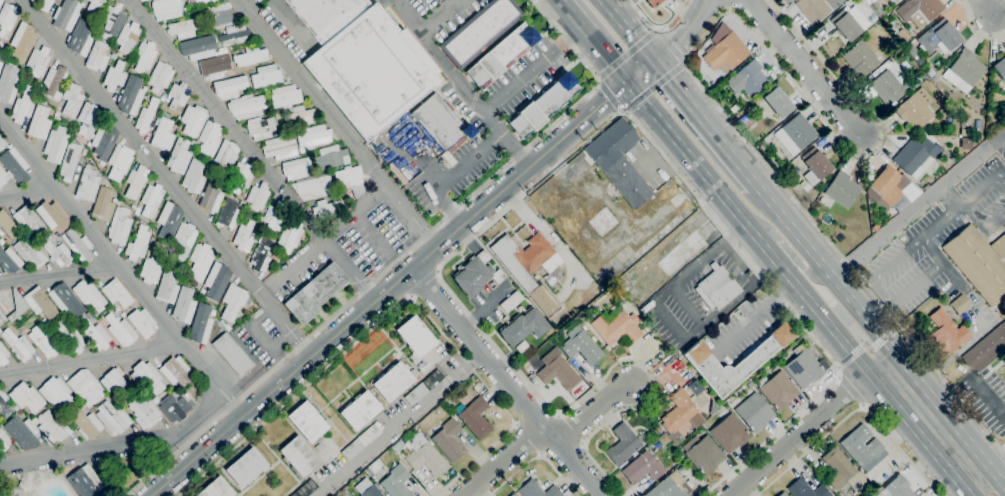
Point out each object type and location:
building: (138, 0)
building: (142, 0)
building: (786, 0)
building: (869, 0)
building: (891, 0)
building: (0, 1)
building: (257, 1)
building: (200, 2)
road: (450, 3)
building: (654, 3)
building: (45, 5)
building: (816, 8)
road: (985, 8)
building: (93, 9)
building: (165, 9)
building: (919, 11)
building: (66, 15)
building: (219, 15)
building: (326, 15)
parking lot: (435, 15)
road: (440, 16)
building: (7, 17)
building: (112, 20)
road: (289, 22)
building: (849, 23)
building: (185, 27)
road: (658, 27)
road: (658, 28)
road: (632, 29)
road: (973, 30)
building: (480, 31)
road: (656, 31)
road: (685, 32)
building: (234, 35)
building: (80, 37)
building: (127, 37)
building: (939, 37)
building: (22, 41)
road: (595, 41)
building: (198, 47)
building: (222, 50)
building: (726, 53)
building: (501, 54)
building: (144, 56)
building: (250, 56)
building: (97, 57)
traffic signals: (658, 60)
building: (860, 60)
road: (685, 61)
building: (37, 62)
building: (918, 62)
building: (0, 64)
building: (215, 66)
road: (803, 66)
road: (534, 68)
building: (1000, 69)
building: (877, 70)
building: (964, 70)
building: (371, 71)
road: (690, 71)
building: (114, 76)
building: (160, 76)
building: (266, 76)
building: (747, 80)
building: (53, 81)
building: (8, 83)
traffic signals: (631, 84)
road: (460, 85)
building: (862, 85)
building: (889, 85)
building: (229, 87)
building: (130, 95)
building: (178, 95)
building: (285, 95)
building: (163, 97)
building: (72, 100)
building: (778, 102)
building: (23, 105)
building: (543, 105)
building: (269, 106)
building: (246, 107)
building: (733, 109)
building: (915, 109)
building: (56, 114)
building: (277, 115)
building: (145, 116)
building: (297, 116)
building: (87, 119)
building: (192, 119)
building: (38, 122)
road: (338, 122)
road: (707, 122)
building: (440, 123)
building: (977, 124)
building: (260, 128)
road: (1003, 131)
building: (795, 134)
road: (1003, 134)
building: (162, 135)
building: (312, 136)
building: (210, 137)
building: (104, 140)
building: (2, 143)
building: (965, 143)
building: (610, 144)
building: (55, 145)
building: (279, 147)
road: (419, 147)
road: (252, 150)
building: (84, 152)
road: (658, 154)
building: (180, 155)
building: (226, 155)
building: (916, 156)
building: (330, 157)
building: (69, 161)
building: (119, 162)
building: (15, 165)
road: (696, 165)
building: (815, 166)
building: (297, 168)
road: (438, 170)
road: (166, 176)
building: (194, 176)
road: (447, 176)
building: (3, 177)
building: (242, 177)
building: (349, 179)
building: (102, 181)
building: (135, 181)
building: (627, 181)
building: (88, 185)
building: (886, 185)
building: (313, 186)
building: (842, 190)
road: (24, 192)
building: (211, 195)
building: (257, 196)
building: (151, 200)
building: (241, 204)
road: (917, 204)
road: (965, 204)
building: (103, 205)
road: (960, 205)
building: (326, 207)
building: (137, 211)
road: (949, 213)
building: (228, 214)
building: (52, 216)
building: (273, 217)
road: (528, 218)
building: (28, 220)
building: (169, 220)
road: (489, 223)
building: (8, 225)
building: (119, 226)
building: (874, 227)
road: (329, 234)
building: (996, 234)
building: (289, 236)
building: (243, 237)
building: (152, 240)
building: (184, 240)
building: (6, 241)
building: (1, 242)
building: (138, 244)
building: (78, 246)
building: (56, 251)
building: (30, 254)
building: (261, 255)
road: (735, 255)
road: (770, 255)
road: (403, 256)
building: (9, 260)
building: (200, 261)
building: (979, 262)
building: (152, 266)
building: (527, 267)
road: (122, 268)
road: (805, 269)
road: (828, 272)
road: (59, 273)
building: (476, 274)
road: (403, 275)
road: (952, 276)
building: (216, 281)
road: (425, 283)
building: (167, 285)
building: (717, 288)
building: (202, 291)
building: (116, 293)
building: (314, 293)
building: (89, 295)
building: (66, 300)
building: (232, 301)
building: (511, 301)
building: (40, 302)
road: (890, 304)
building: (960, 304)
building: (184, 305)
road: (685, 305)
building: (17, 306)
road: (396, 307)
building: (212, 312)
road: (793, 312)
road: (755, 315)
road: (668, 320)
building: (0, 322)
building: (142, 322)
road: (825, 322)
building: (200, 324)
building: (225, 325)
building: (523, 326)
building: (618, 328)
building: (120, 330)
building: (0, 331)
building: (96, 334)
building: (947, 334)
building: (414, 335)
road: (884, 335)
building: (70, 337)
building: (43, 342)
building: (18, 345)
building: (581, 346)
building: (522, 348)
road: (866, 348)
building: (986, 349)
building: (232, 354)
building: (3, 355)
road: (849, 356)
road: (92, 360)
building: (699, 361)
road: (468, 364)
building: (525, 365)
building: (803, 367)
building: (175, 371)
building: (413, 373)
building: (558, 373)
building: (147, 376)
building: (115, 381)
building: (392, 381)
road: (505, 382)
building: (749, 385)
building: (85, 387)
building: (423, 387)
building: (477, 387)
road: (592, 390)
building: (776, 390)
road: (850, 391)
building: (56, 393)
building: (26, 397)
building: (155, 400)
building: (4, 406)
building: (15, 407)
building: (174, 408)
building: (359, 410)
road: (853, 411)
building: (144, 412)
building: (754, 412)
road: (592, 414)
building: (680, 415)
building: (474, 417)
building: (112, 418)
building: (34, 421)
road: (930, 421)
building: (307, 422)
building: (85, 423)
building: (53, 427)
building: (659, 430)
road: (810, 431)
building: (23, 432)
building: (729, 433)
road: (387, 436)
building: (663, 439)
building: (449, 440)
road: (526, 440)
building: (3, 441)
building: (361, 442)
building: (623, 444)
road: (118, 445)
building: (319, 445)
building: (398, 447)
building: (863, 448)
building: (704, 455)
building: (425, 456)
building: (298, 457)
road: (536, 458)
road: (502, 460)
road: (991, 466)
building: (246, 467)
building: (642, 468)
building: (842, 470)
road: (991, 480)
building: (85, 481)
building: (395, 482)
building: (670, 486)
building: (867, 487)
building: (899, 487)
road: (977, 487)
building: (216, 488)
building: (367, 488)
building: (305, 489)
building: (806, 489)
building: (539, 490)
building: (13, 492)
building: (346, 494)
building: (513, 494)
building: (782, 494)
building: (337, 495)

